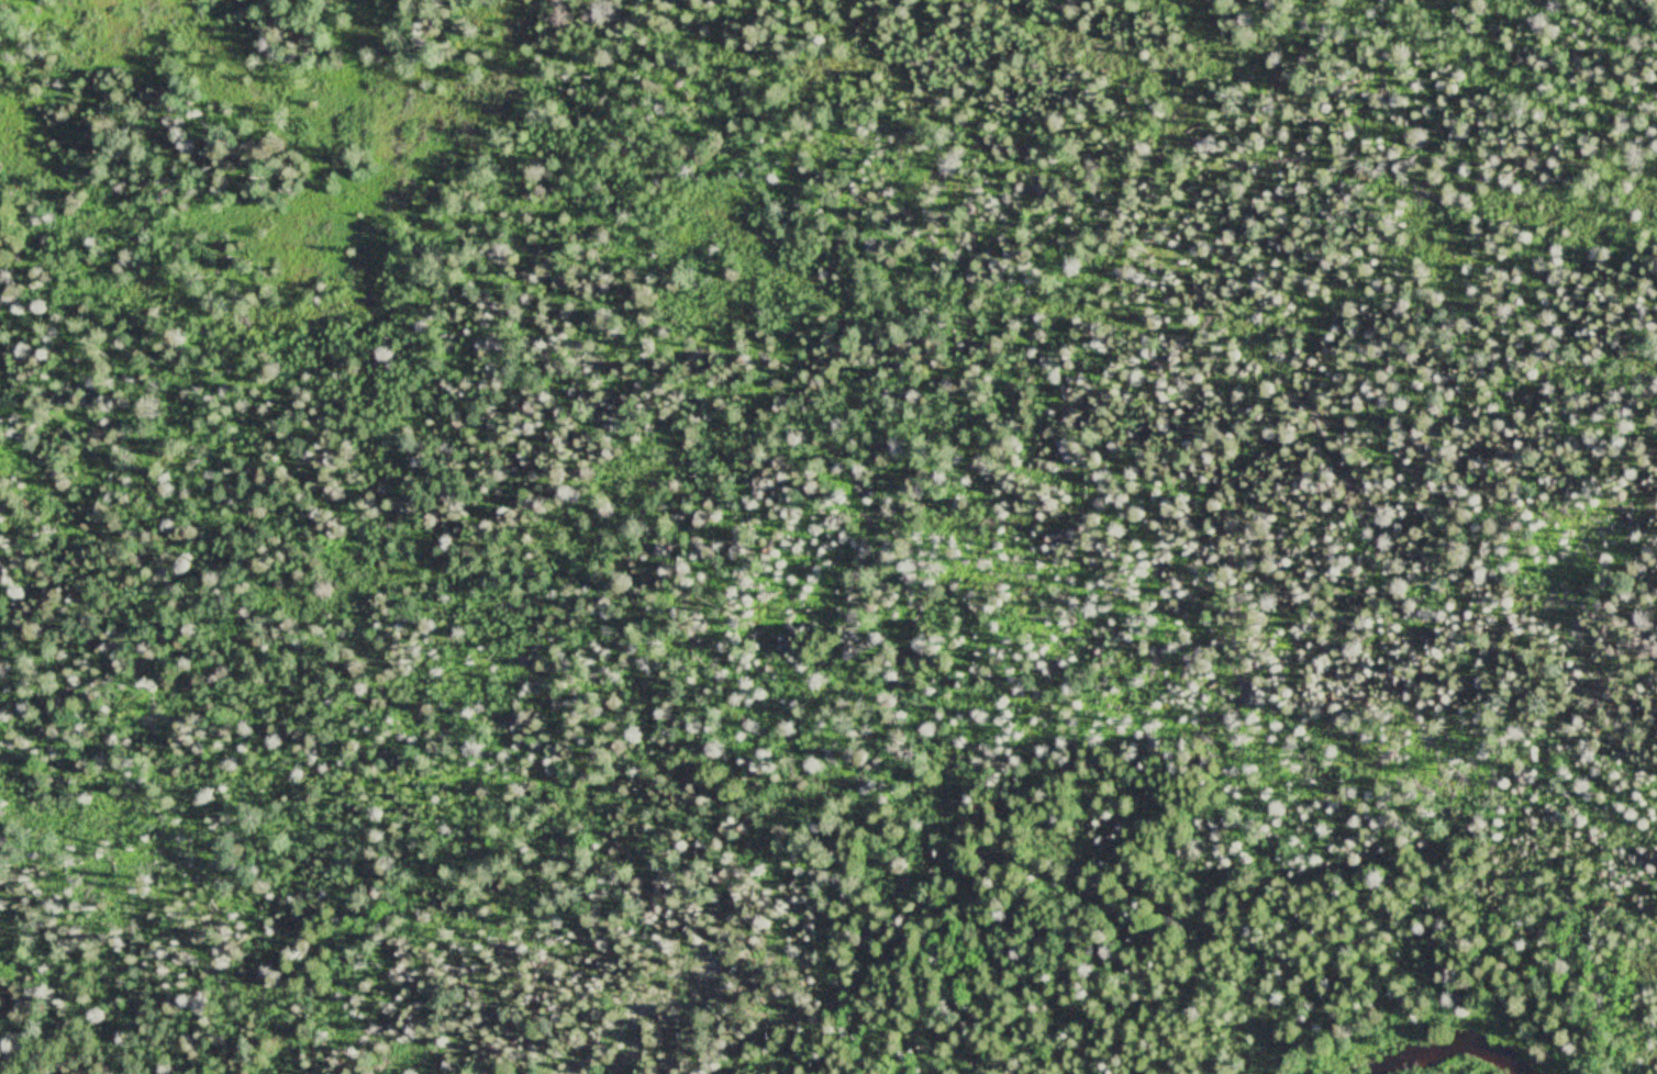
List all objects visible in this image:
river: (1453, 1053)

